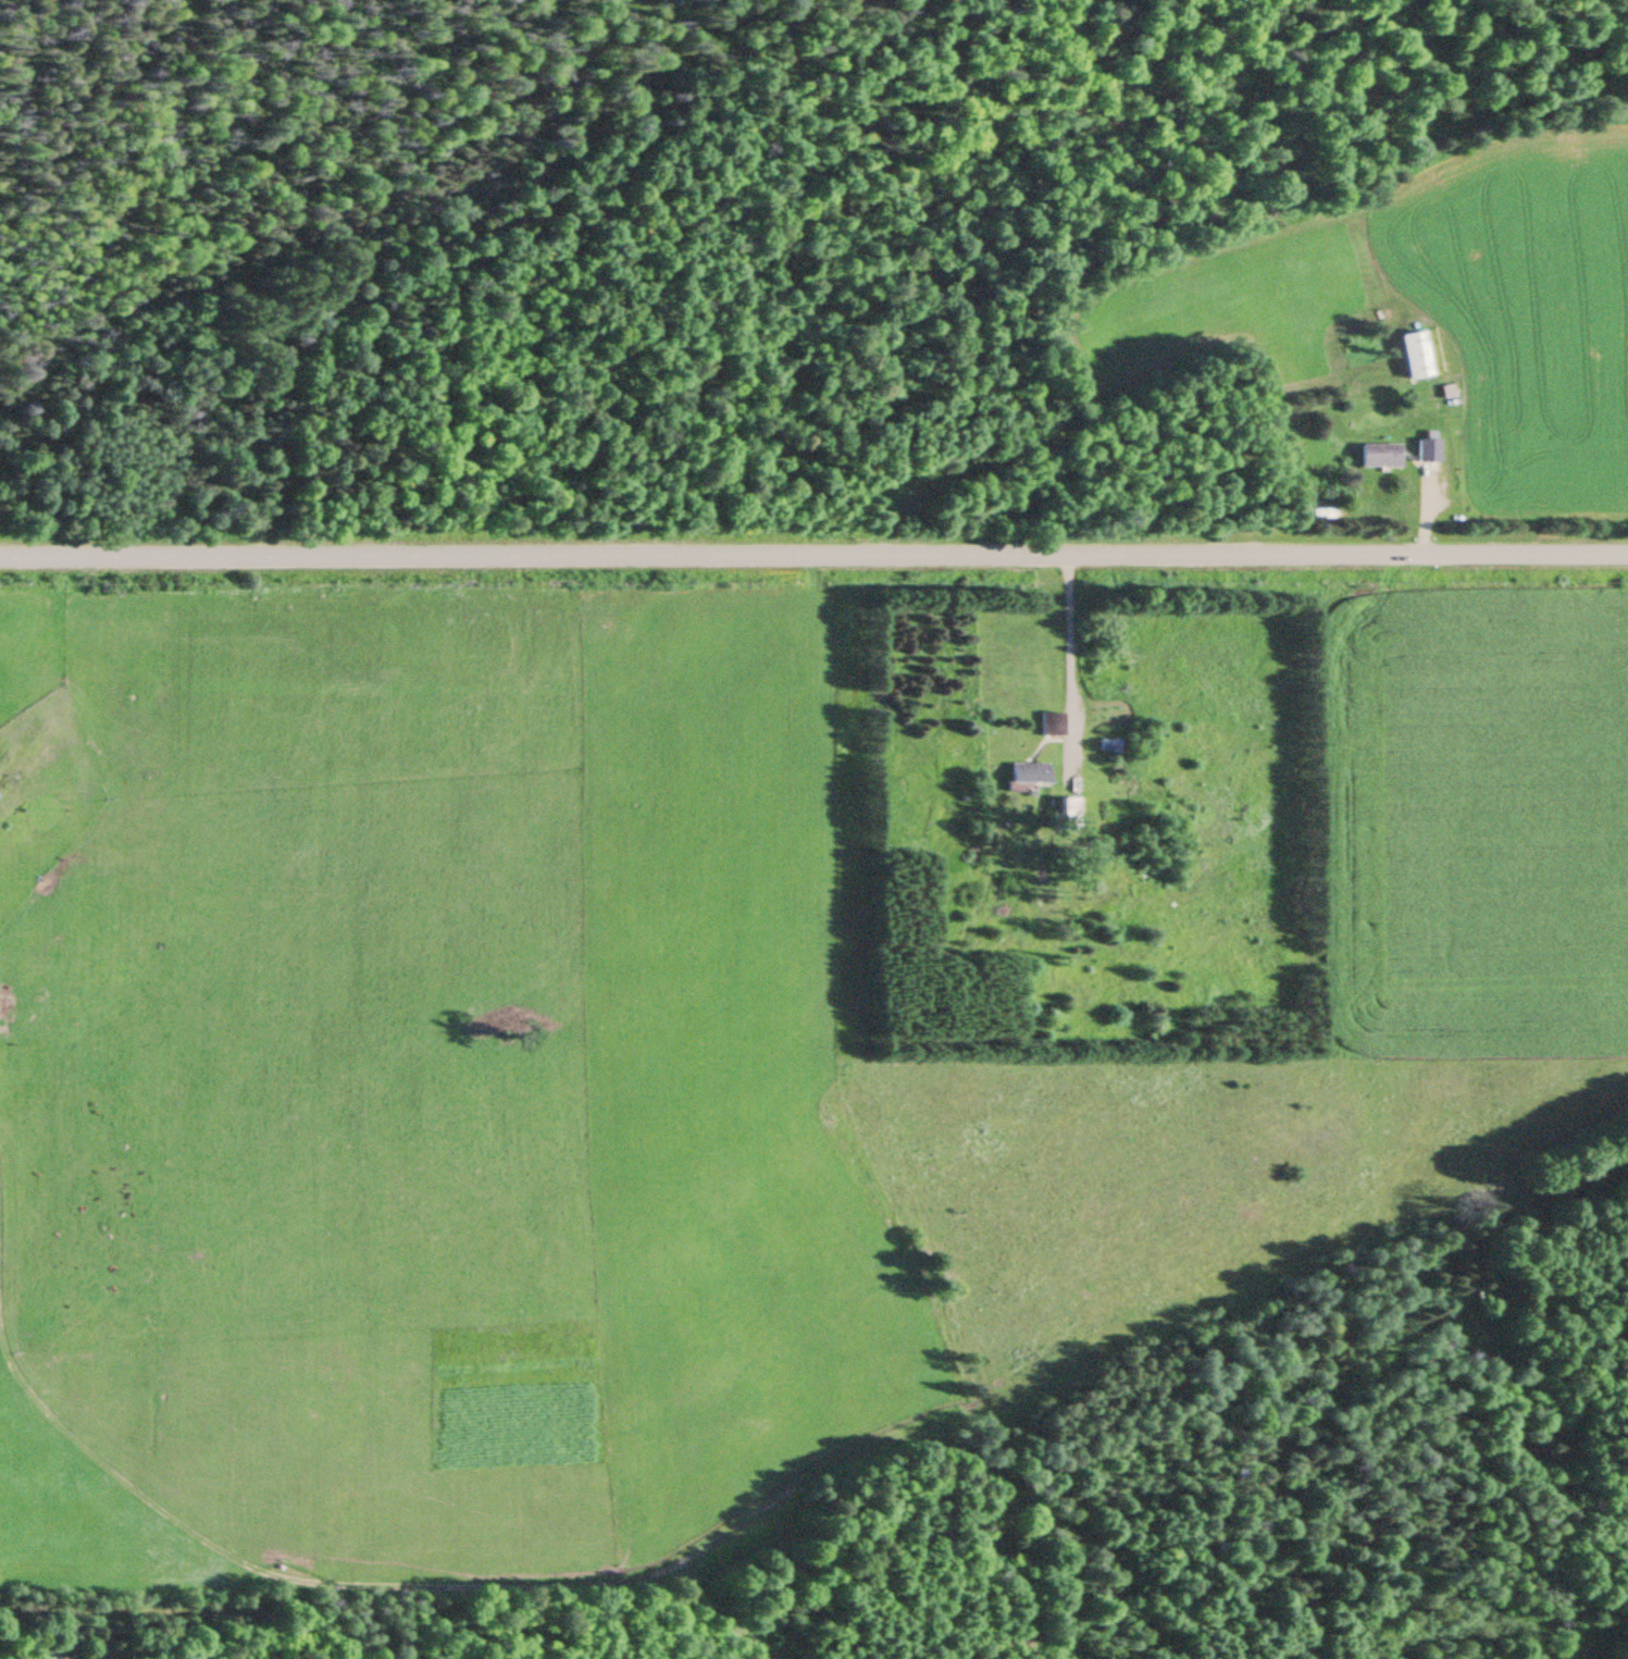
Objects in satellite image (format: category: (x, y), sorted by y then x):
building: (1416, 357)
building: (1428, 451)
building: (1380, 456)
road: (813, 553)
building: (1029, 775)

